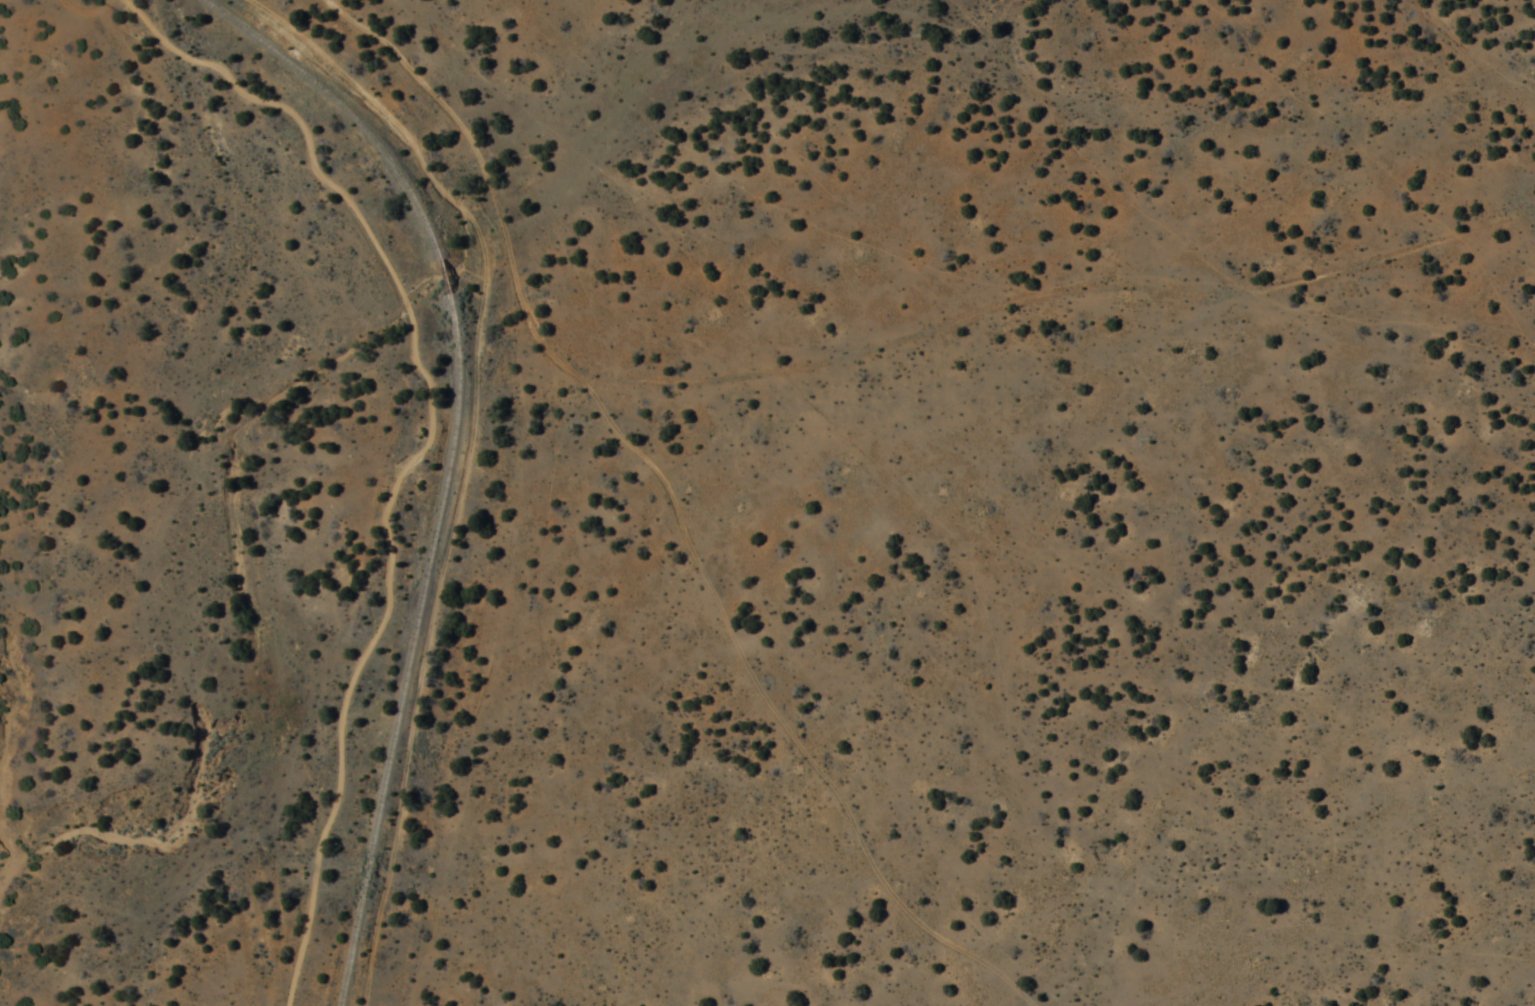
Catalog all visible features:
road: (85, 8)
road: (418, 450)
railway: (448, 457)
road: (662, 510)

